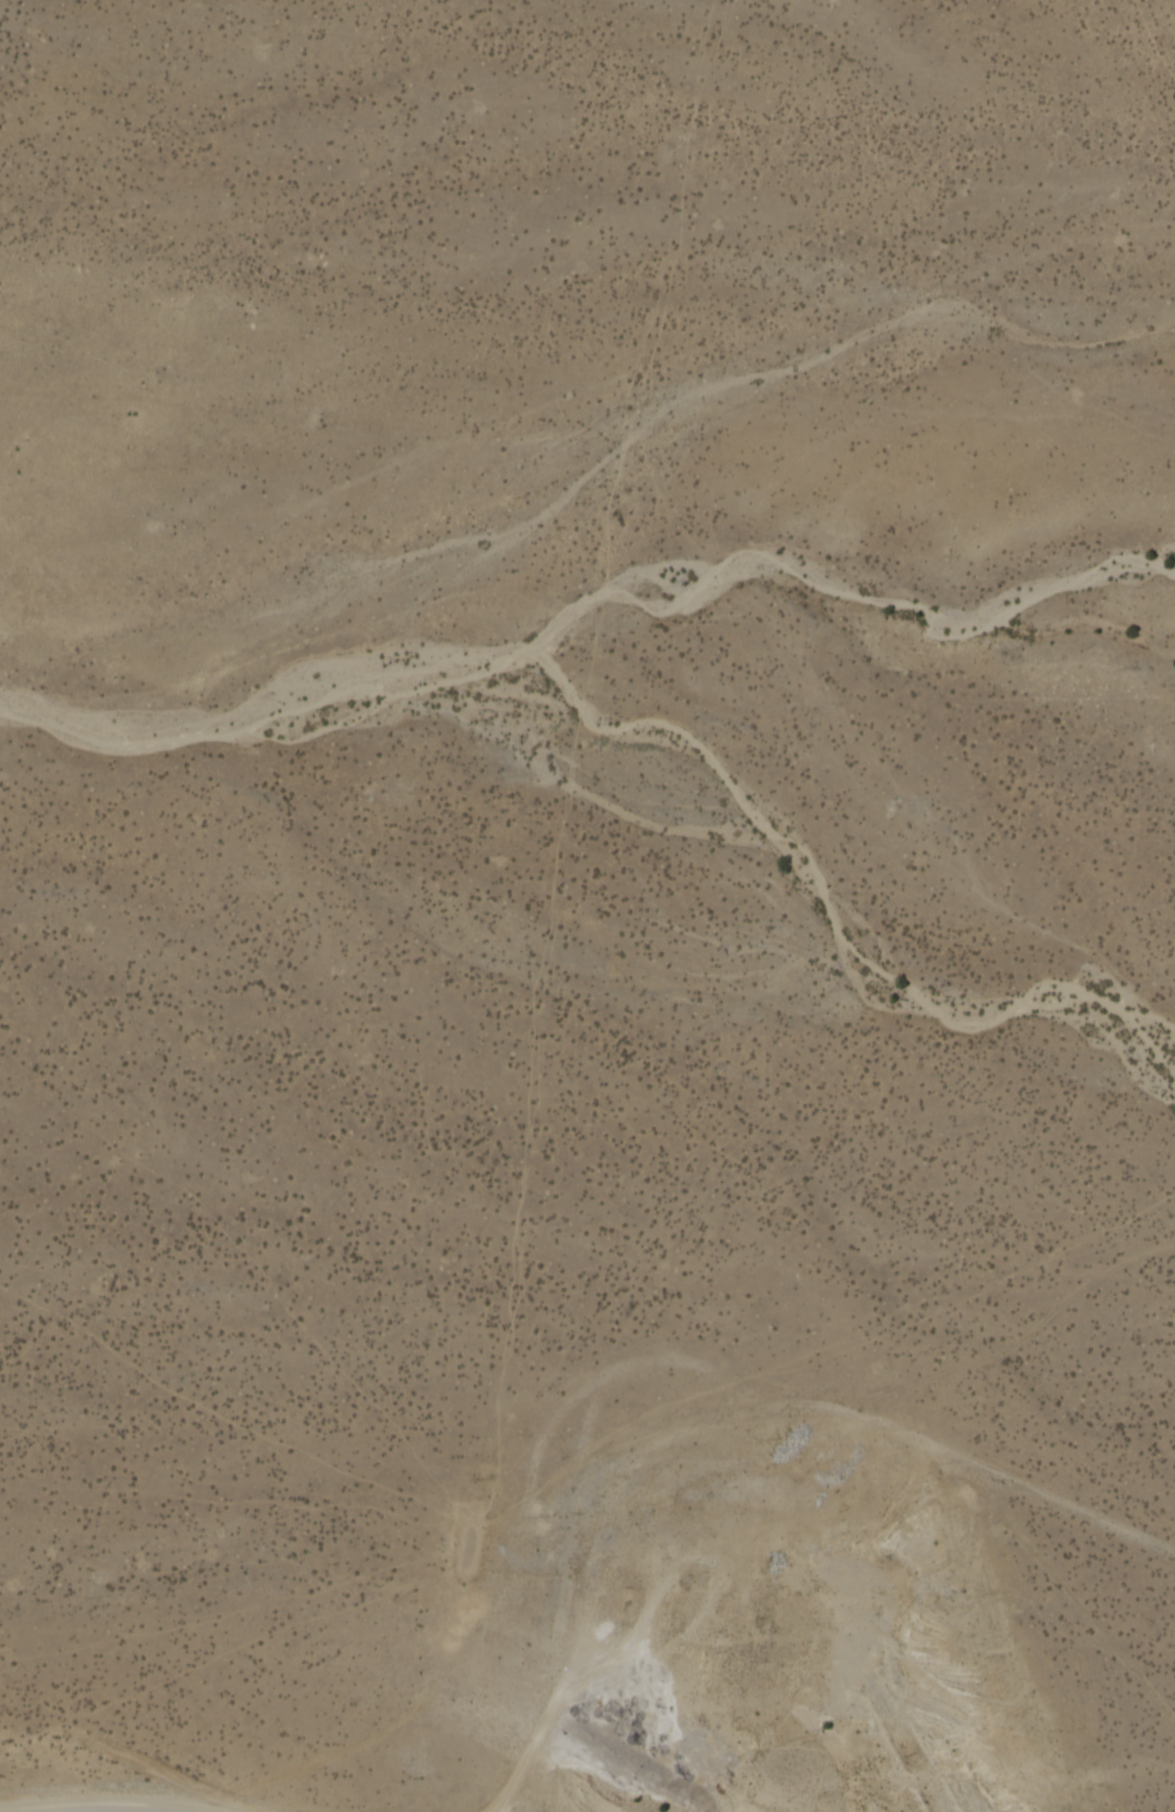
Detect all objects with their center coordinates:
road: (536, 1747)
road: (140, 1802)
road: (498, 1810)

